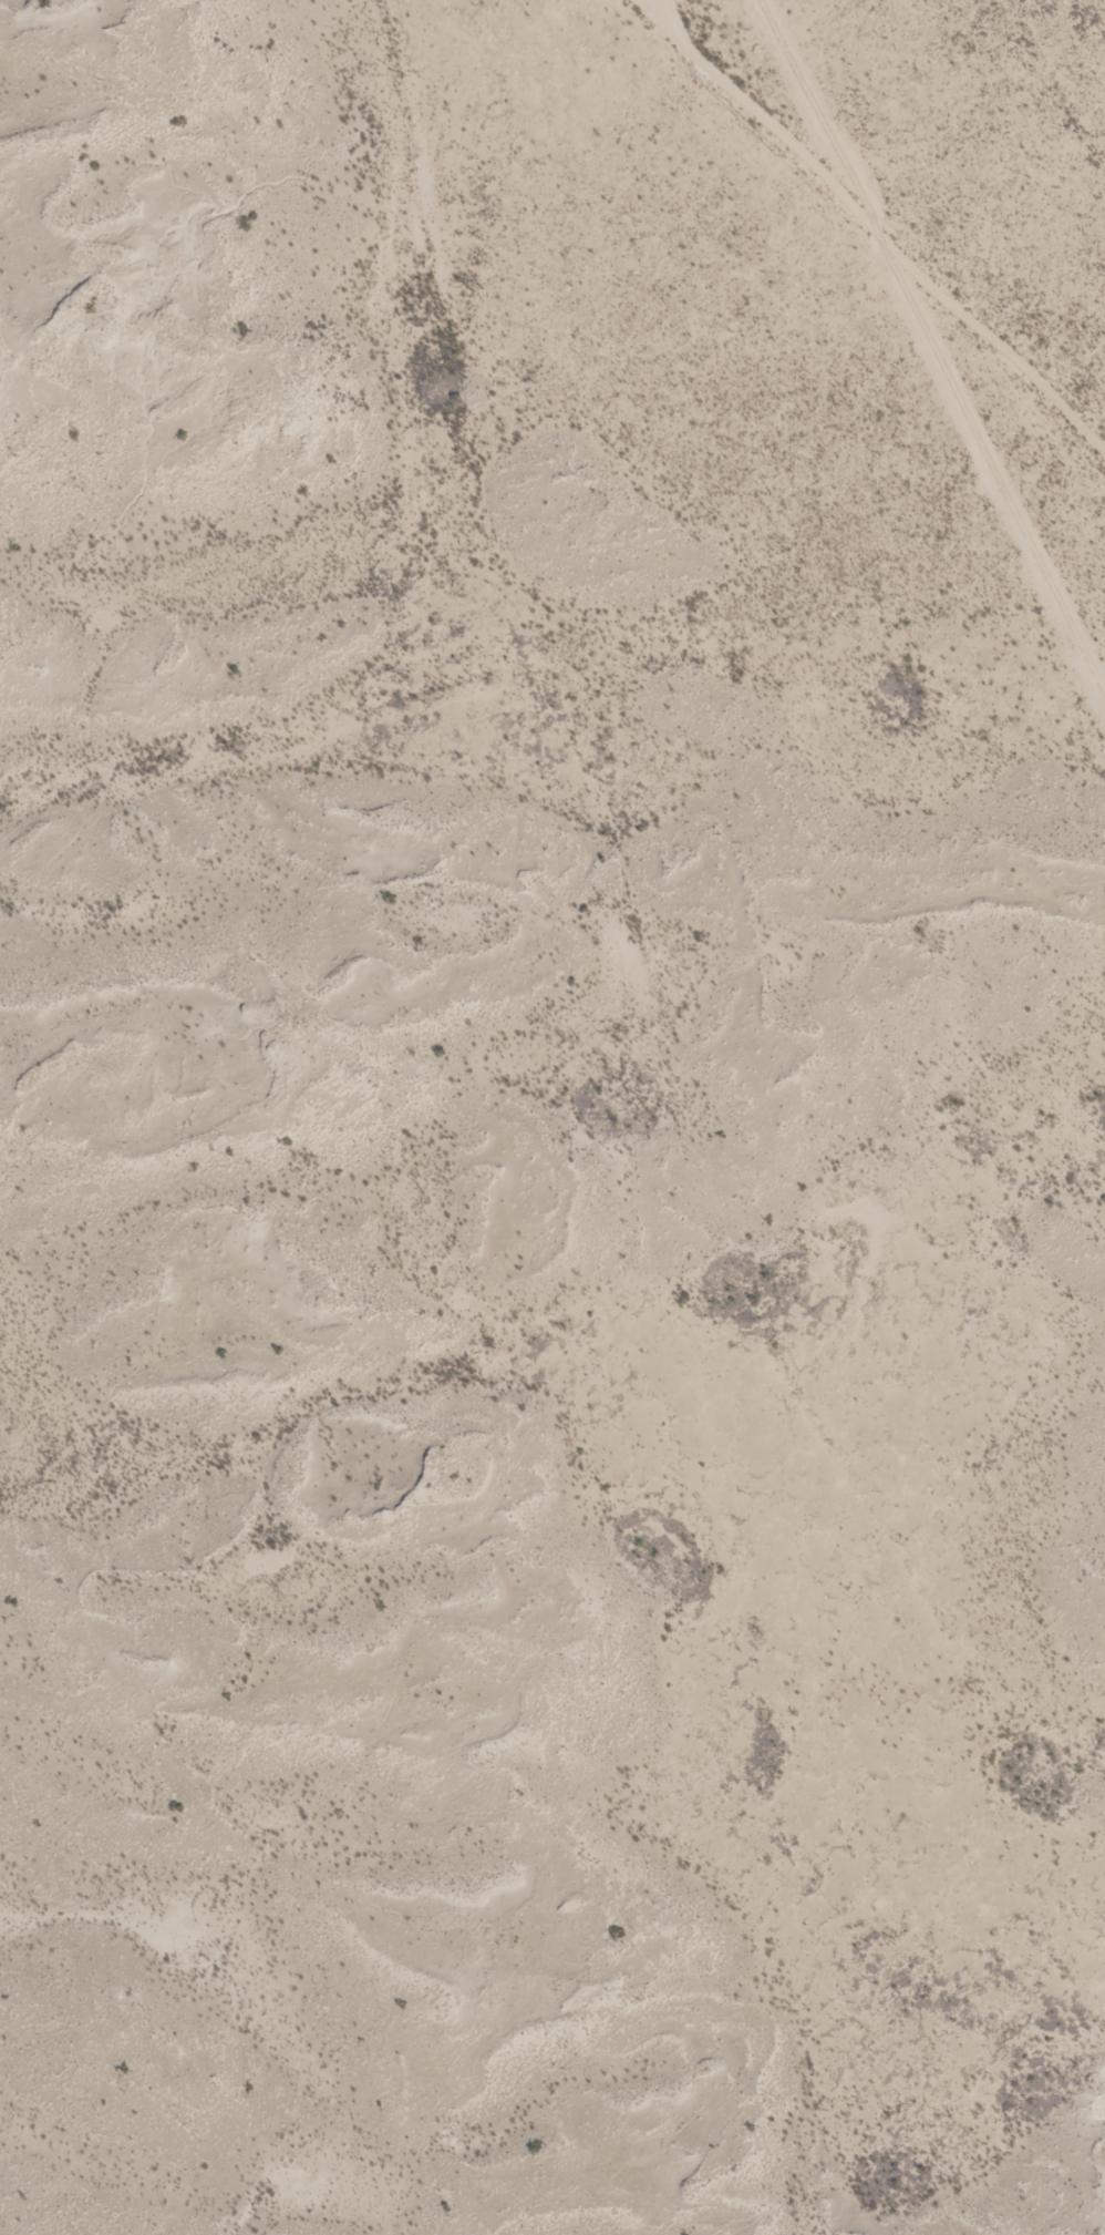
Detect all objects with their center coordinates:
road: (876, 219)

